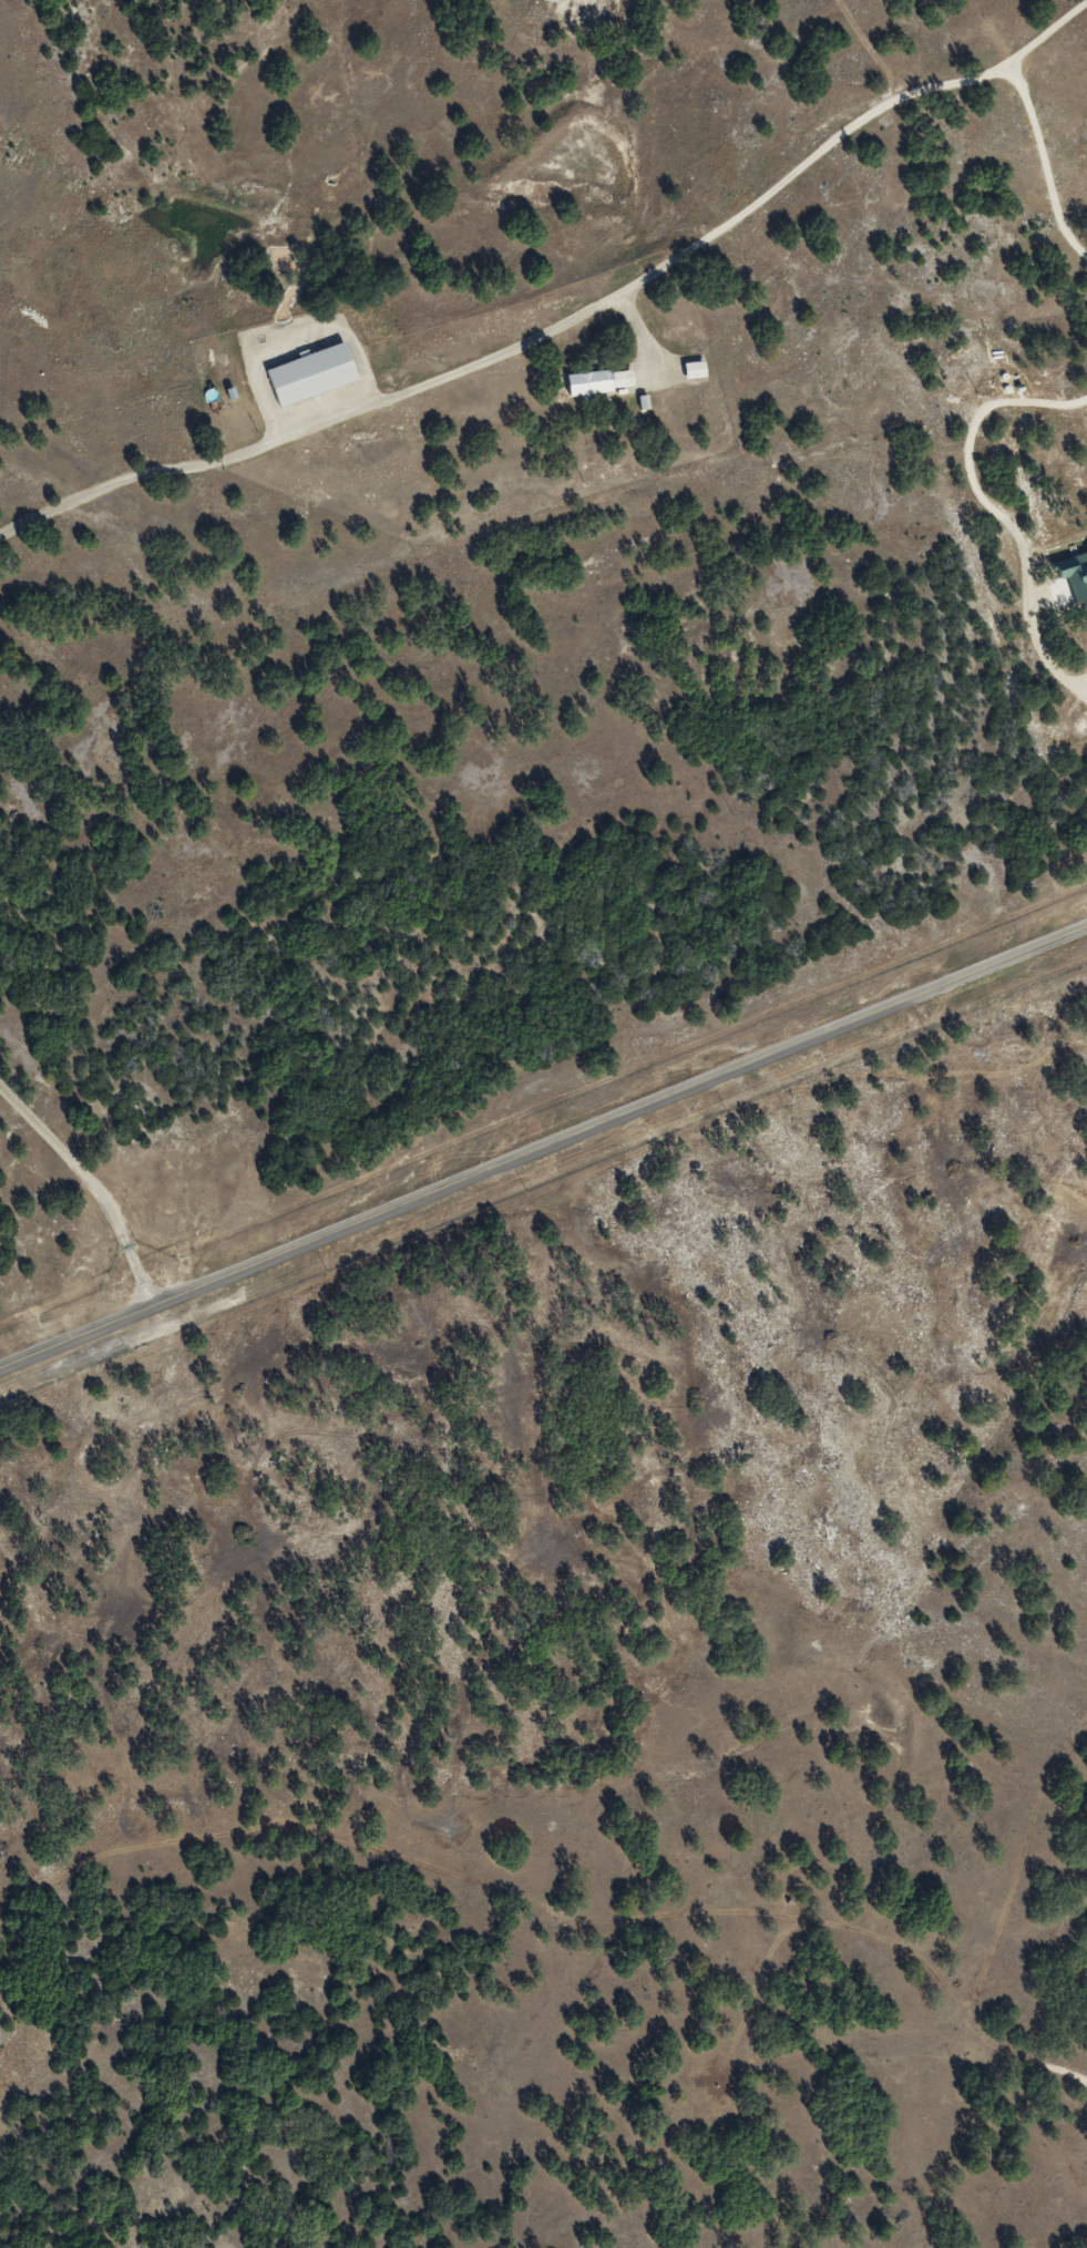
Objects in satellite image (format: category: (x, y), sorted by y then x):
road: (566, 310)
building: (693, 370)
building: (309, 376)
building: (598, 381)
road: (543, 1154)
road: (100, 1177)

